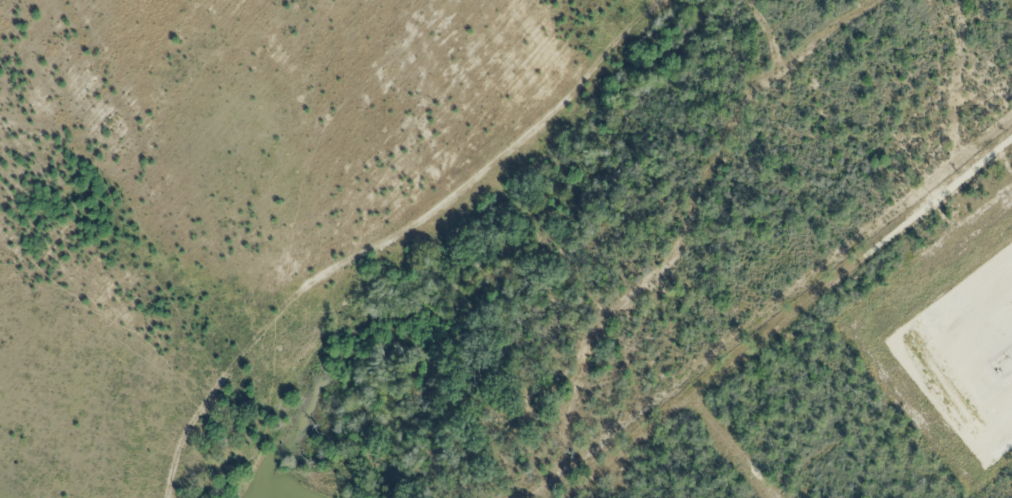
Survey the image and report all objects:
road: (788, 319)

